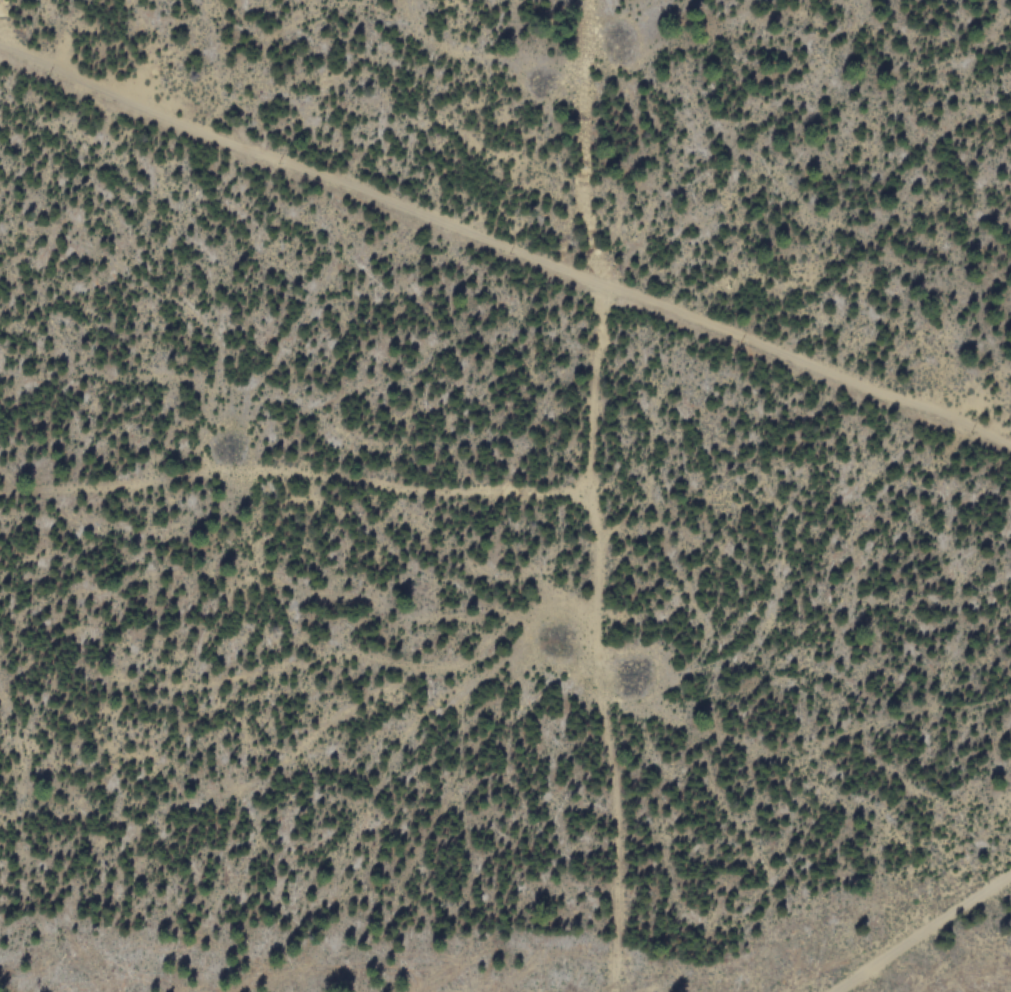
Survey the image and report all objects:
road: (8, 33)
road: (504, 253)
road: (296, 477)
road: (595, 497)
road: (919, 929)

